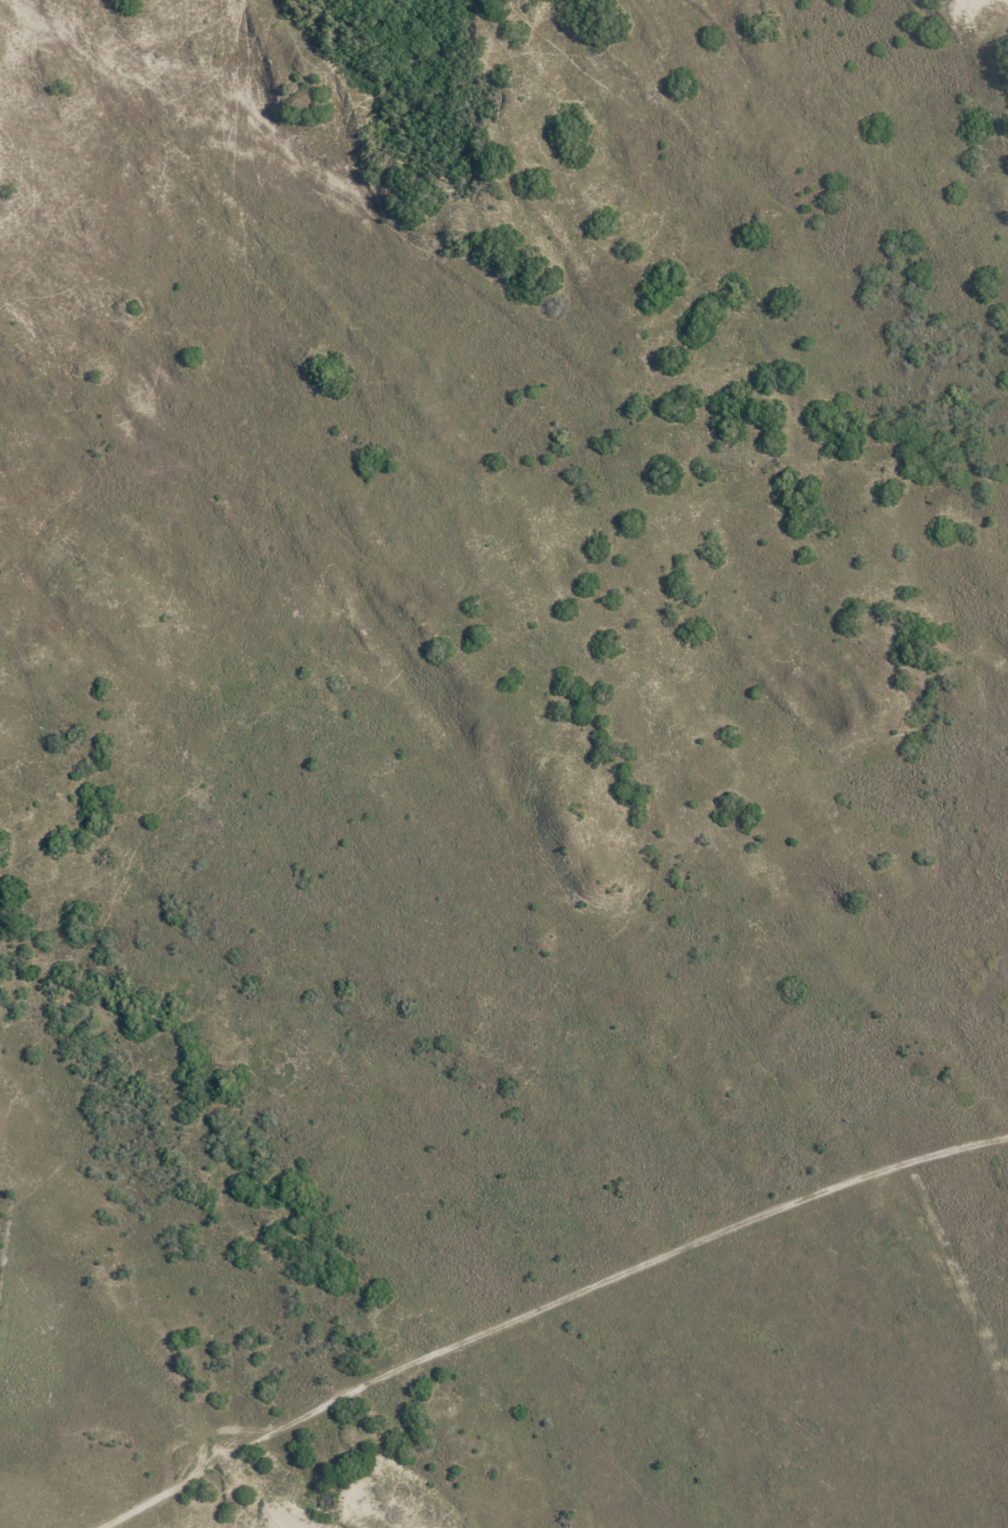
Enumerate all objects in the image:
road: (79, 151)
road: (6, 1387)

